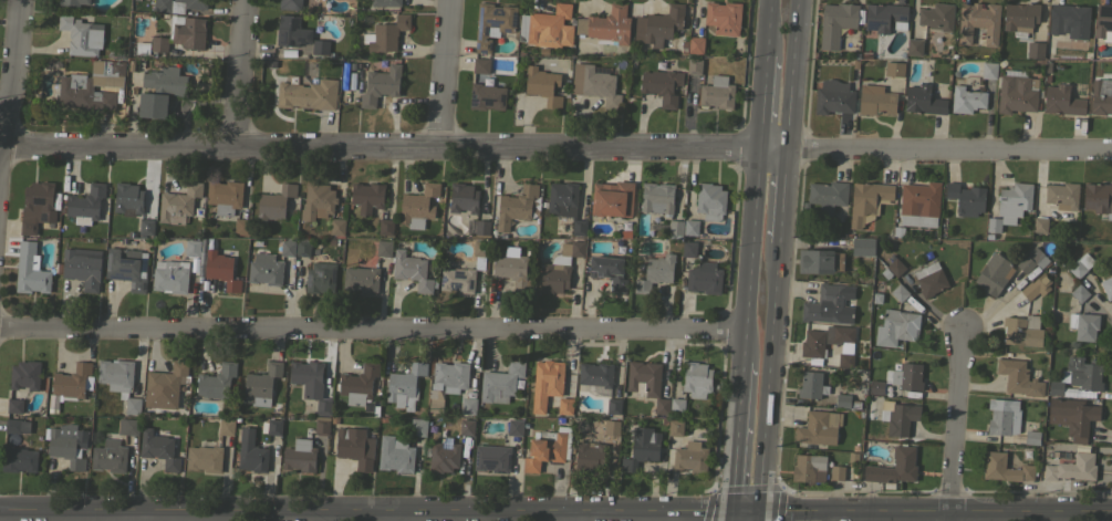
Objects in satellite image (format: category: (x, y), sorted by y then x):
building: (385, 2)
building: (71, 3)
building: (177, 4)
building: (290, 4)
rooftop solar panel: (497, 12)
rooftop solar panel: (516, 17)
building: (723, 17)
building: (885, 17)
building: (937, 17)
building: (1020, 18)
building: (1069, 20)
rooftop solar panel: (491, 22)
building: (978, 22)
building: (1103, 22)
building: (492, 23)
building: (836, 23)
rooftop solar panel: (872, 23)
building: (550, 24)
building: (606, 25)
building: (658, 25)
road: (766, 27)
building: (291, 31)
building: (181, 33)
building: (387, 34)
building: (81, 35)
building: (694, 44)
building: (915, 46)
building: (142, 48)
building: (320, 48)
building: (1036, 52)
building: (480, 65)
building: (694, 66)
building: (894, 69)
building: (988, 70)
road: (446, 73)
road: (239, 75)
road: (797, 79)
building: (594, 84)
building: (91, 85)
building: (380, 85)
building: (542, 85)
building: (661, 85)
building: (159, 90)
building: (1016, 92)
building: (717, 93)
building: (308, 94)
building: (486, 96)
building: (1101, 96)
building: (833, 97)
building: (966, 98)
building: (877, 100)
building: (923, 100)
building: (1062, 101)
road: (8, 103)
road: (760, 105)
road: (396, 147)
road: (950, 155)
building: (1062, 195)
building: (225, 196)
building: (366, 196)
building: (827, 196)
building: (128, 197)
building: (463, 197)
building: (921, 197)
building: (1098, 197)
building: (612, 198)
building: (656, 198)
building: (709, 198)
building: (966, 198)
road: (784, 199)
building: (318, 200)
building: (867, 200)
building: (274, 202)
building: (418, 202)
building: (85, 204)
building: (178, 204)
building: (564, 204)
building: (1010, 205)
building: (37, 206)
building: (515, 206)
building: (241, 226)
building: (336, 226)
building: (478, 226)
building: (146, 227)
building: (385, 227)
building: (690, 227)
building: (1040, 227)
building: (675, 228)
building: (288, 247)
building: (302, 247)
building: (862, 247)
building: (191, 248)
building: (383, 248)
building: (689, 248)
rooftop solar panel: (127, 259)
road: (747, 259)
building: (1032, 259)
building: (815, 261)
building: (1080, 264)
building: (82, 267)
rooftop solar panel: (125, 267)
building: (127, 267)
building: (560, 267)
building: (895, 267)
building: (220, 269)
building: (266, 269)
building: (511, 269)
building: (30, 270)
building: (410, 270)
building: (464, 271)
building: (609, 271)
building: (655, 272)
building: (994, 274)
building: (170, 275)
rooftop solar panel: (118, 277)
building: (320, 277)
building: (702, 278)
building: (361, 279)
building: (929, 279)
building: (1036, 286)
building: (1106, 286)
building: (900, 292)
building: (1079, 292)
building: (829, 304)
building: (1083, 325)
building: (896, 326)
road: (371, 329)
building: (1022, 330)
building: (838, 334)
building: (812, 343)
building: (844, 348)
building: (845, 360)
building: (24, 374)
building: (595, 374)
building: (450, 375)
road: (770, 375)
building: (1078, 375)
building: (906, 376)
building: (1018, 377)
building: (643, 378)
building: (697, 378)
building: (119, 381)
building: (216, 381)
building: (71, 382)
building: (500, 383)
building: (545, 383)
building: (261, 384)
building: (310, 384)
building: (358, 384)
building: (405, 385)
building: (811, 385)
building: (165, 386)
building: (876, 386)
building: (842, 400)
building: (564, 405)
building: (613, 405)
building: (14, 406)
building: (468, 406)
building: (662, 406)
building: (677, 406)
building: (898, 416)
building: (1002, 416)
building: (1072, 416)
rooftop solar panel: (1015, 424)
road: (956, 425)
building: (17, 426)
building: (128, 426)
building: (274, 426)
building: (226, 427)
building: (418, 427)
building: (467, 427)
building: (516, 427)
building: (612, 427)
building: (675, 427)
building: (819, 427)
road: (734, 434)
building: (1032, 437)
building: (66, 444)
building: (355, 447)
building: (642, 447)
building: (304, 448)
building: (548, 448)
building: (158, 449)
building: (251, 450)
building: (395, 454)
building: (110, 456)
building: (589, 456)
building: (444, 457)
building: (690, 457)
building: (204, 458)
building: (492, 458)
building: (852, 458)
building: (19, 459)
building: (808, 467)
building: (894, 467)
building: (1005, 468)
building: (1072, 468)
building: (836, 472)
traffic signals: (729, 508)
road: (744, 508)
traffic signals: (758, 508)
road: (364, 509)
road: (934, 511)
road: (389, 514)
road: (567, 514)
road: (728, 514)
road: (757, 514)
road: (201, 515)

